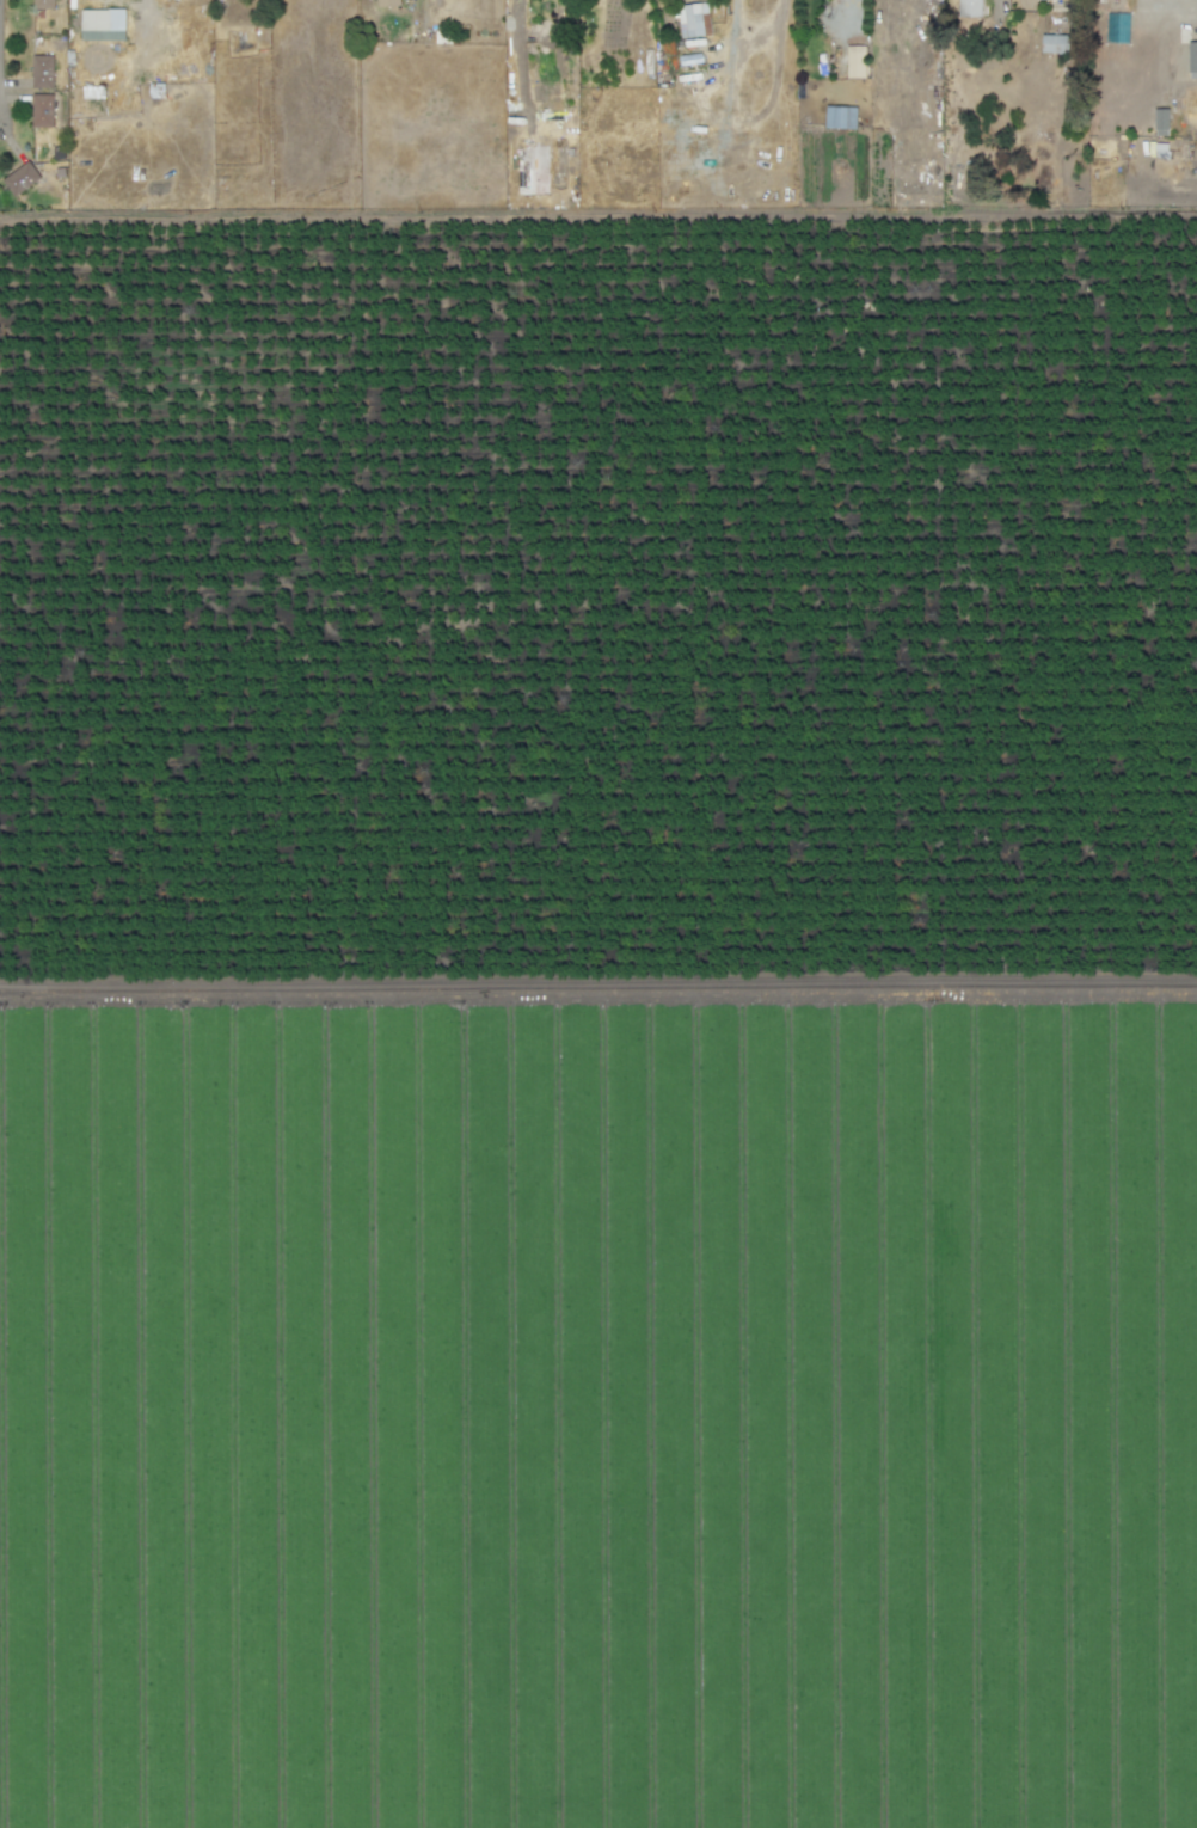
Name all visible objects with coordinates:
building: (43, 4)
building: (391, 4)
building: (564, 4)
building: (965, 8)
building: (99, 19)
building: (696, 20)
building: (541, 33)
building: (243, 42)
building: (1055, 44)
building: (1193, 61)
building: (858, 62)
building: (42, 70)
building: (41, 110)
building: (842, 119)
building: (1164, 124)
building: (20, 178)
road: (598, 220)

